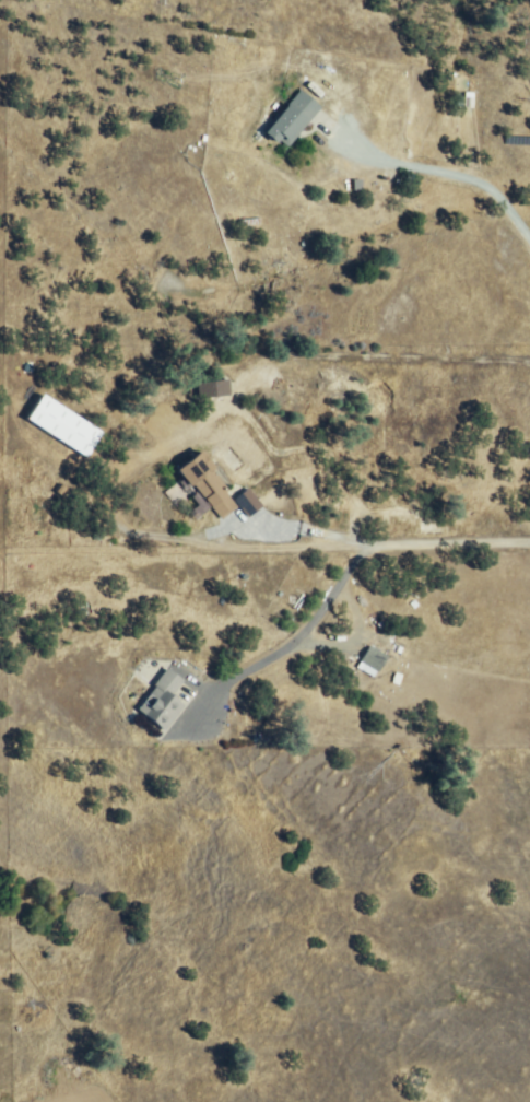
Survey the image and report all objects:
building: (292, 120)
road: (450, 176)
building: (207, 390)
building: (207, 485)
building: (248, 504)
building: (397, 528)
road: (309, 532)
road: (346, 567)
building: (373, 660)
building: (162, 702)

